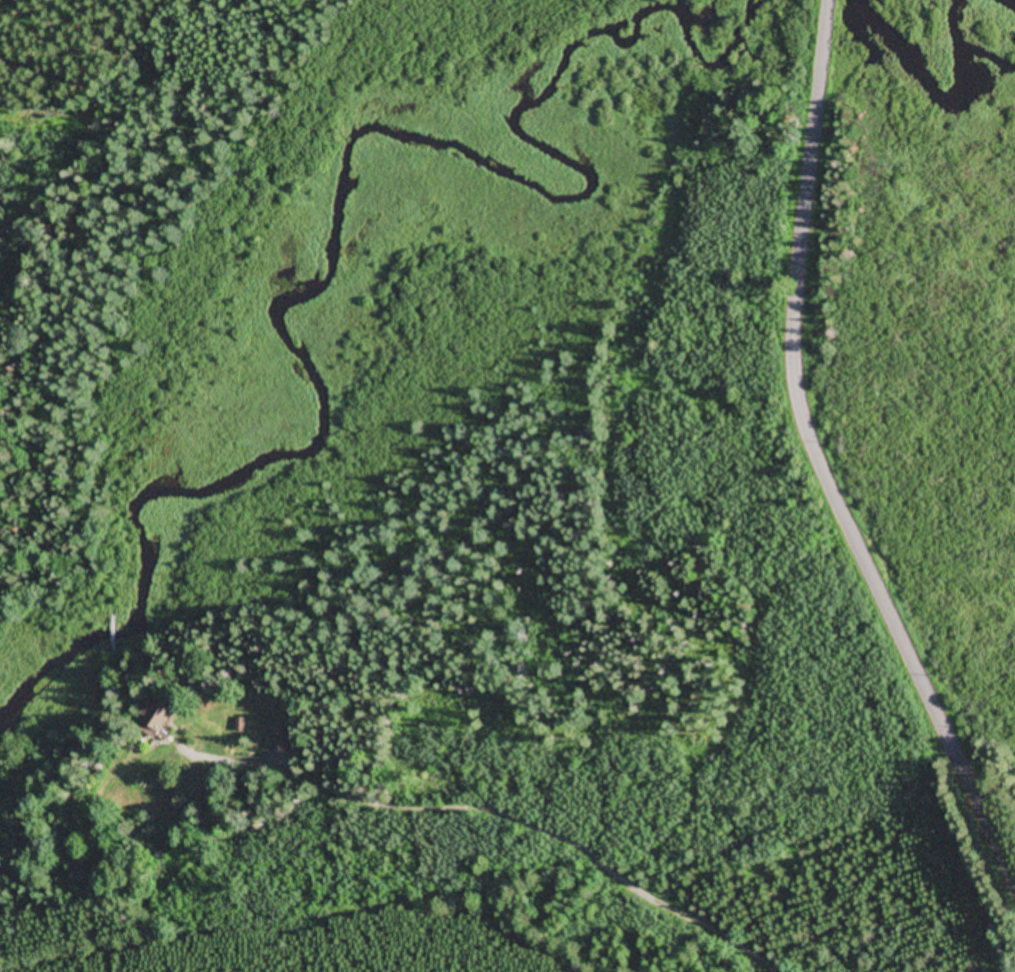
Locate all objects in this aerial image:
road: (820, 458)
building: (155, 718)
building: (280, 737)

